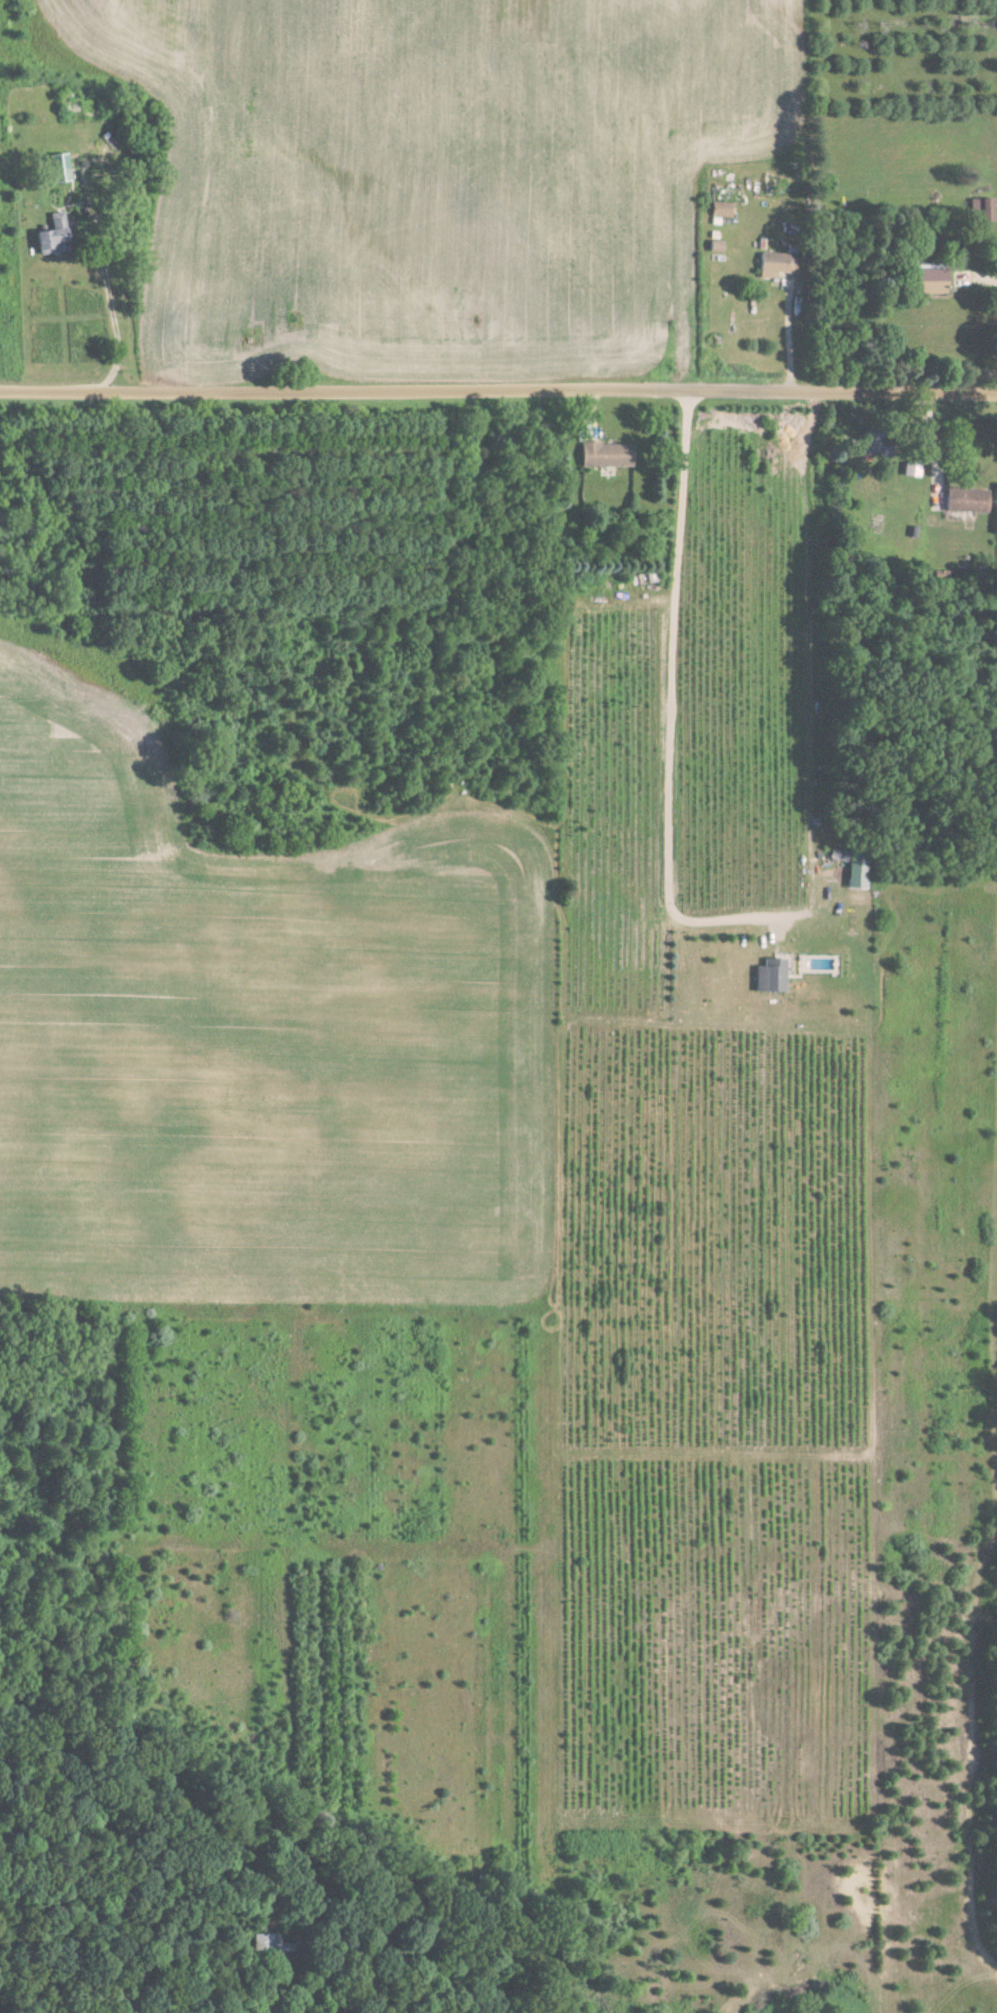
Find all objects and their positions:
building: (59, 168)
building: (719, 210)
building: (983, 210)
building: (45, 232)
building: (771, 265)
road: (987, 273)
building: (923, 281)
road: (108, 306)
road: (498, 388)
road: (931, 443)
building: (602, 455)
building: (963, 500)
road: (676, 708)
building: (855, 873)
building: (768, 977)

